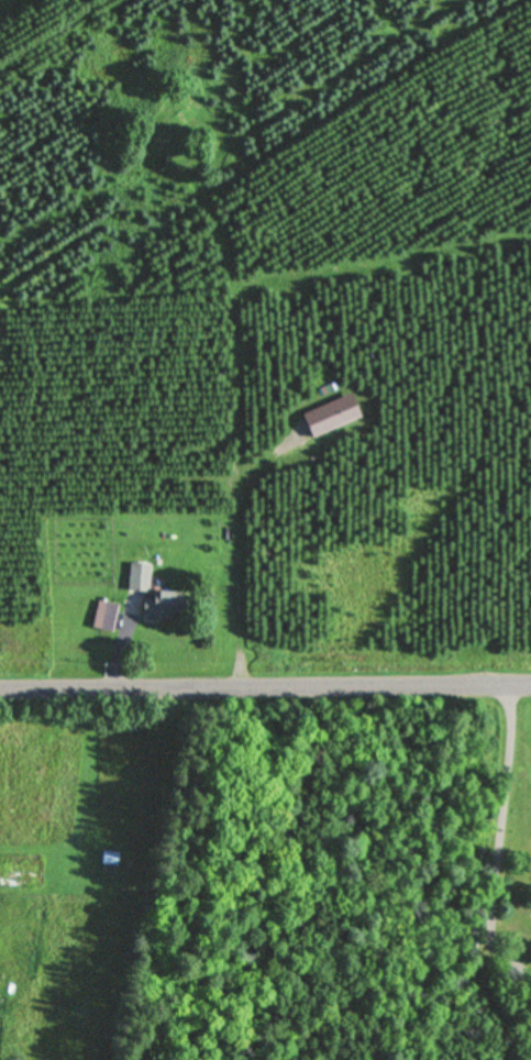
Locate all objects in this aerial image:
building: (137, 578)
building: (157, 607)
building: (103, 617)
road: (265, 683)
building: (108, 860)

